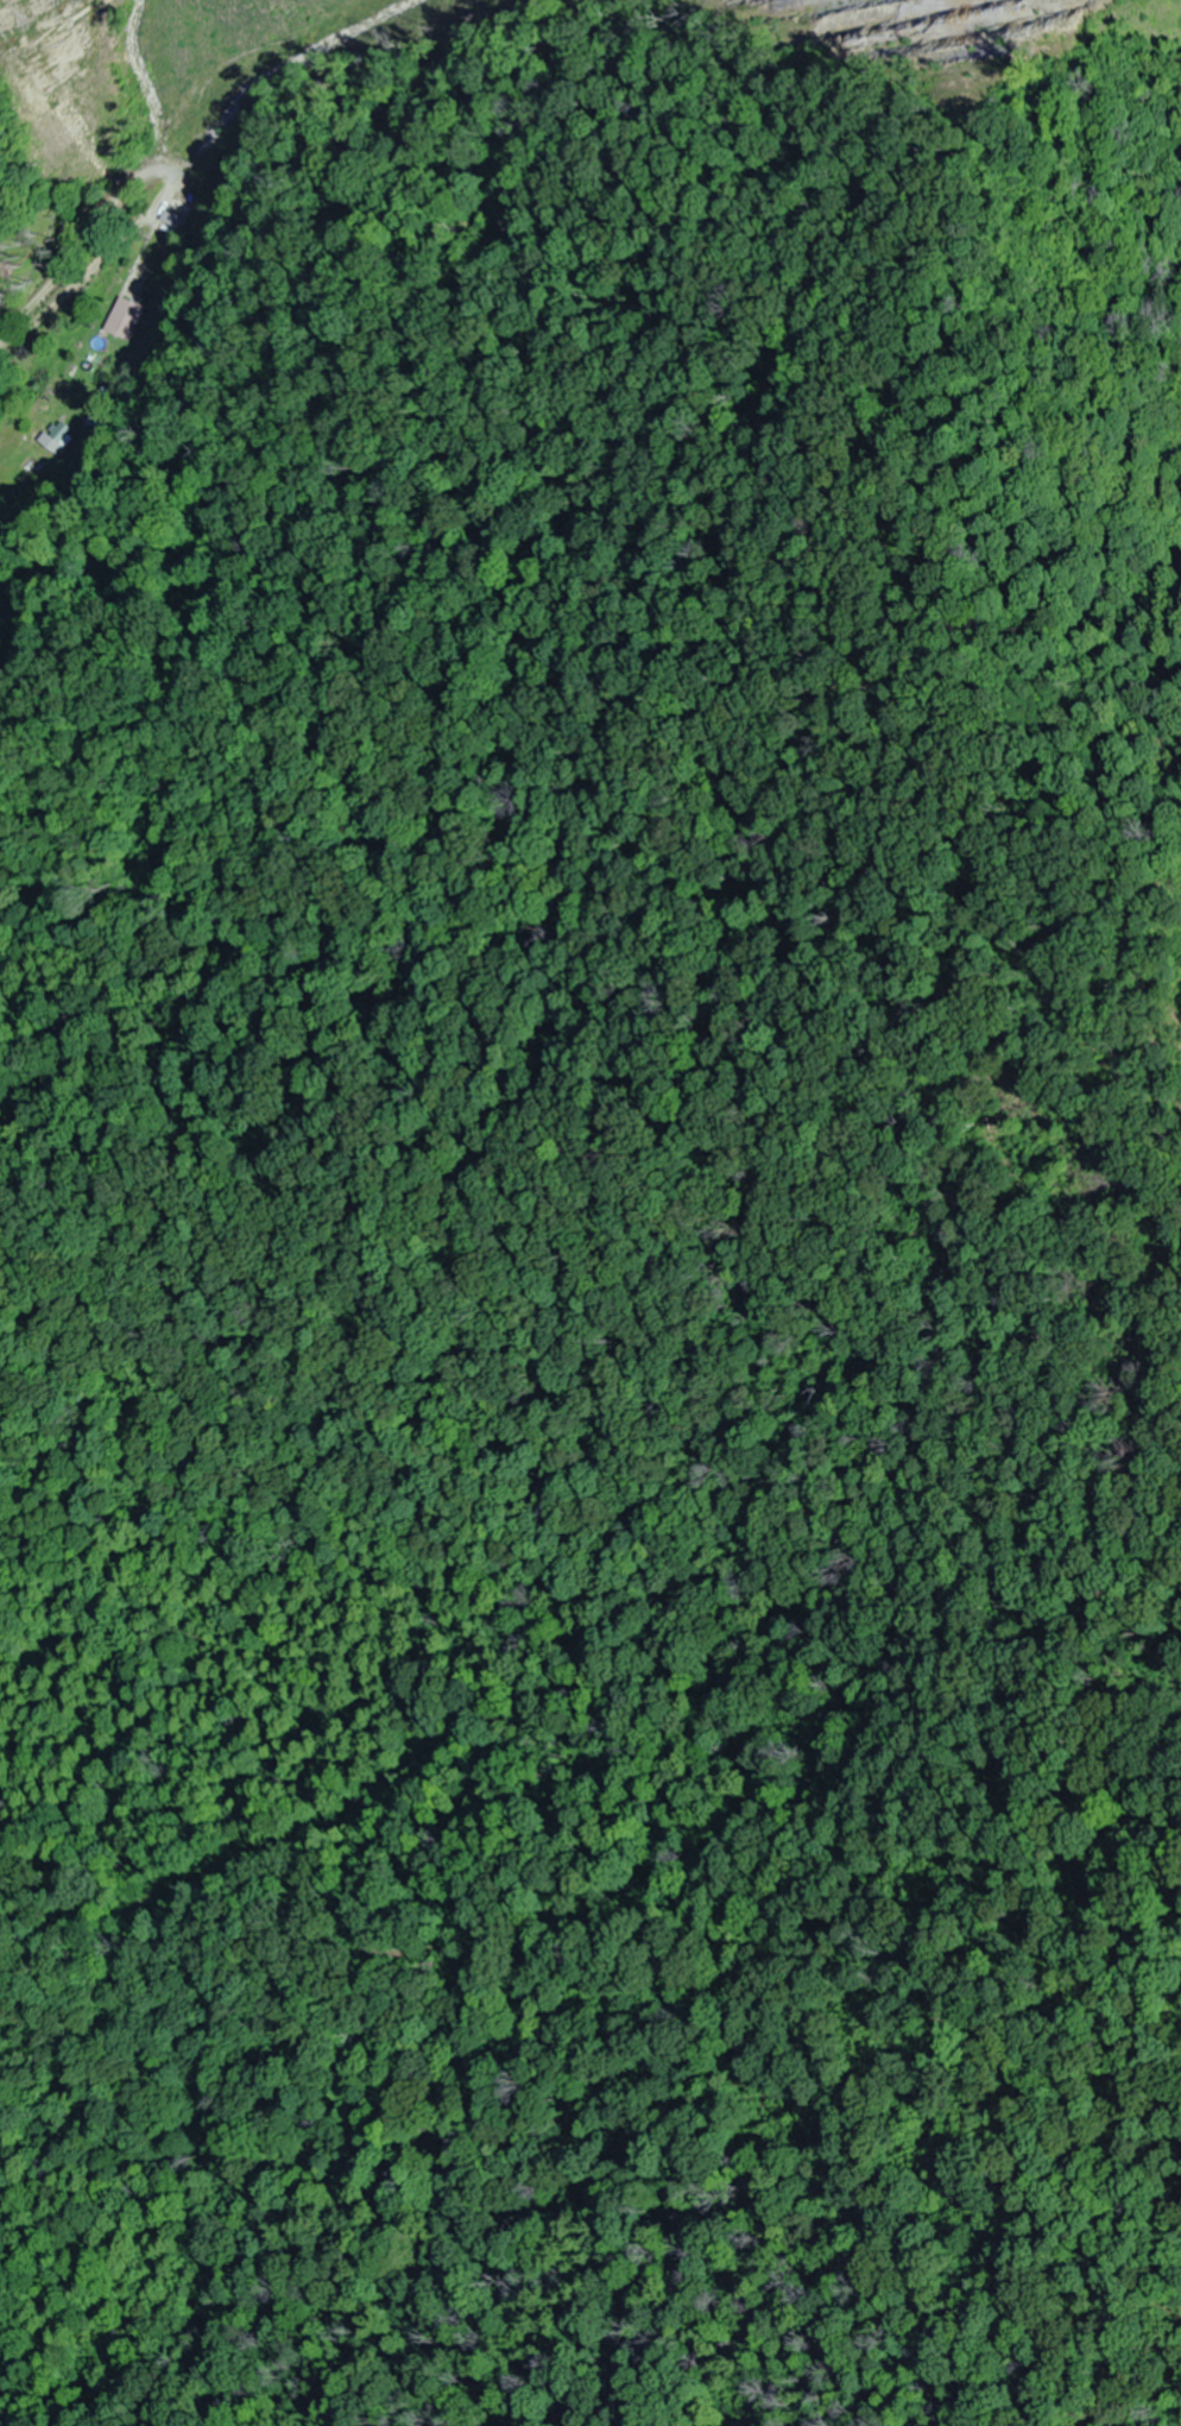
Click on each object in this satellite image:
building: (183, 215)
road: (10, 219)
building: (131, 320)
building: (70, 434)

